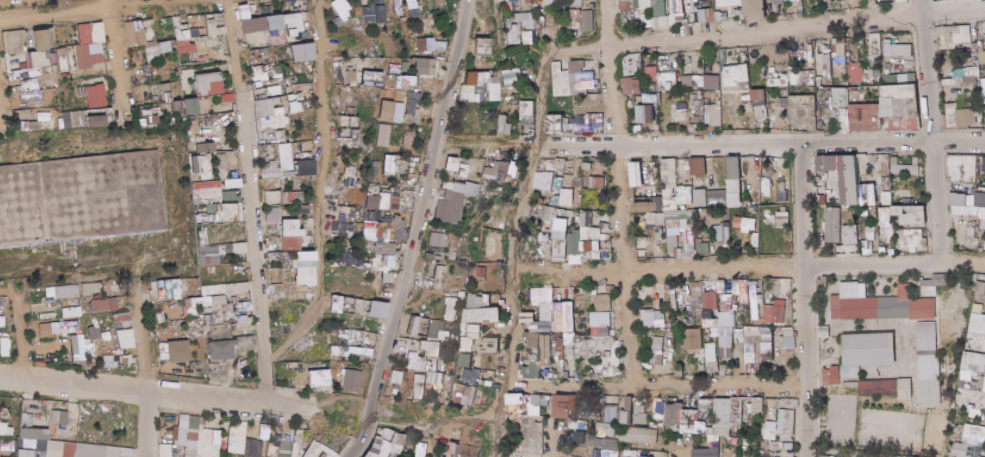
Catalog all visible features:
building: (536, 0)
building: (792, 0)
building: (888, 1)
building: (545, 2)
building: (551, 2)
building: (707, 2)
building: (776, 2)
road: (111, 3)
building: (380, 3)
building: (577, 4)
building: (536, 5)
building: (634, 5)
building: (526, 6)
building: (590, 6)
building: (398, 7)
building: (675, 7)
road: (91, 8)
building: (340, 8)
building: (657, 8)
building: (698, 8)
building: (753, 8)
building: (480, 9)
building: (799, 9)
building: (264, 10)
building: (292, 11)
building: (252, 12)
building: (638, 12)
building: (414, 13)
building: (275, 14)
building: (372, 15)
building: (706, 15)
building: (523, 16)
building: (277, 18)
building: (266, 19)
building: (289, 19)
building: (573, 19)
building: (585, 19)
building: (508, 20)
building: (679, 20)
building: (202, 22)
building: (274, 22)
building: (645, 22)
building: (660, 22)
building: (191, 23)
building: (305, 24)
building: (254, 25)
building: (427, 25)
building: (485, 25)
building: (528, 25)
building: (515, 27)
building: (537, 27)
building: (83, 28)
building: (181, 28)
building: (214, 28)
road: (760, 32)
building: (198, 33)
building: (95, 34)
building: (138, 34)
building: (129, 35)
building: (274, 35)
building: (953, 35)
building: (81, 36)
building: (218, 37)
building: (412, 37)
building: (513, 37)
building: (527, 37)
building: (48, 38)
building: (885, 39)
building: (38, 40)
building: (494, 41)
building: (13, 43)
building: (150, 43)
building: (181, 43)
building: (207, 43)
building: (882, 44)
building: (978, 44)
building: (421, 45)
building: (819, 45)
building: (983, 46)
building: (481, 47)
building: (95, 48)
road: (117, 48)
building: (294, 48)
building: (185, 49)
building: (82, 50)
building: (151, 50)
building: (833, 50)
building: (840, 50)
building: (64, 51)
building: (872, 51)
building: (891, 51)
building: (905, 52)
building: (820, 53)
building: (24, 56)
building: (495, 56)
building: (860, 56)
building: (981, 58)
building: (826, 59)
building: (821, 60)
building: (877, 60)
building: (707, 61)
building: (792, 62)
building: (479, 63)
building: (588, 63)
building: (904, 63)
building: (43, 64)
building: (62, 64)
building: (373, 64)
building: (490, 64)
building: (576, 64)
building: (334, 65)
building: (405, 65)
building: (718, 65)
building: (422, 66)
building: (632, 66)
building: (791, 66)
building: (888, 66)
building: (189, 68)
building: (435, 68)
building: (708, 68)
building: (37, 69)
building: (49, 69)
building: (149, 69)
building: (393, 69)
building: (256, 70)
building: (573, 70)
building: (274, 71)
building: (382, 72)
building: (651, 72)
building: (844, 72)
building: (9, 73)
building: (17, 73)
building: (688, 73)
building: (337, 74)
building: (828, 74)
building: (70, 75)
building: (423, 75)
building: (495, 75)
building: (735, 75)
building: (856, 75)
building: (349, 76)
building: (873, 76)
building: (260, 77)
building: (391, 77)
building: (484, 78)
building: (805, 78)
building: (963, 78)
building: (420, 79)
building: (469, 79)
building: (637, 79)
building: (510, 80)
building: (584, 80)
building: (895, 80)
building: (50, 81)
building: (779, 81)
building: (810, 81)
building: (40, 82)
building: (404, 82)
building: (694, 82)
building: (712, 83)
building: (192, 84)
building: (206, 84)
building: (255, 84)
building: (27, 85)
building: (844, 85)
building: (863, 85)
building: (630, 86)
building: (292, 87)
building: (634, 87)
building: (654, 87)
building: (738, 87)
building: (16, 88)
building: (639, 88)
building: (13, 90)
building: (79, 90)
building: (784, 90)
building: (224, 91)
building: (52, 92)
building: (154, 92)
building: (428, 92)
building: (136, 93)
building: (492, 93)
building: (284, 94)
building: (402, 94)
building: (467, 94)
building: (763, 94)
building: (93, 95)
building: (163, 95)
building: (481, 95)
building: (635, 95)
road: (1, 96)
building: (23, 96)
building: (412, 96)
building: (509, 97)
building: (223, 98)
building: (426, 98)
building: (758, 98)
building: (35, 99)
building: (503, 99)
building: (639, 99)
building: (659, 99)
building: (747, 99)
building: (902, 99)
building: (475, 100)
building: (839, 100)
building: (291, 101)
building: (650, 101)
building: (716, 101)
building: (268, 102)
building: (285, 103)
building: (222, 104)
building: (777, 104)
building: (44, 105)
building: (173, 105)
building: (300, 105)
building: (696, 105)
building: (771, 105)
building: (630, 106)
building: (767, 106)
building: (189, 107)
building: (410, 107)
road: (532, 107)
building: (887, 107)
building: (748, 108)
building: (291, 109)
building: (512, 109)
building: (760, 109)
building: (254, 110)
building: (264, 110)
building: (385, 111)
building: (645, 111)
building: (804, 111)
building: (144, 112)
building: (397, 112)
building: (415, 112)
building: (96, 113)
building: (29, 114)
building: (713, 115)
building: (48, 116)
building: (156, 116)
building: (40, 117)
building: (865, 117)
building: (966, 117)
building: (524, 118)
building: (75, 119)
building: (63, 120)
building: (147, 120)
building: (410, 120)
building: (93, 121)
building: (168, 121)
building: (205, 121)
building: (283, 121)
building: (698, 121)
building: (139, 122)
building: (267, 122)
building: (759, 122)
building: (57, 123)
building: (553, 123)
building: (586, 123)
building: (899, 123)
building: (86, 124)
building: (21, 126)
building: (30, 126)
building: (503, 126)
building: (138, 127)
building: (348, 127)
building: (752, 127)
road: (932, 127)
building: (695, 128)
building: (15, 129)
building: (637, 129)
building: (709, 129)
building: (414, 130)
building: (409, 133)
building: (383, 135)
building: (266, 138)
building: (407, 140)
building: (346, 143)
road: (755, 143)
building: (202, 146)
building: (232, 148)
building: (262, 149)
road: (478, 151)
building: (270, 154)
building: (398, 157)
building: (415, 159)
building: (768, 159)
building: (282, 160)
building: (717, 160)
building: (785, 160)
building: (894, 161)
building: (915, 161)
building: (398, 162)
building: (823, 162)
building: (558, 163)
building: (596, 163)
building: (833, 163)
building: (193, 164)
building: (388, 164)
building: (451, 164)
building: (292, 165)
building: (567, 165)
building: (687, 165)
building: (981, 165)
building: (220, 166)
building: (585, 166)
building: (886, 166)
building: (303, 167)
building: (374, 167)
building: (503, 167)
building: (698, 167)
building: (978, 167)
building: (204, 168)
building: (734, 168)
building: (350, 169)
building: (398, 169)
building: (404, 169)
building: (904, 169)
building: (269, 170)
building: (511, 170)
building: (962, 170)
building: (461, 172)
building: (496, 173)
building: (766, 173)
building: (232, 175)
building: (637, 175)
building: (576, 176)
building: (667, 179)
building: (883, 179)
building: (895, 179)
building: (900, 179)
building: (540, 180)
building: (850, 181)
building: (411, 182)
building: (595, 182)
building: (350, 183)
building: (476, 183)
building: (500, 183)
building: (766, 183)
building: (448, 184)
building: (444, 185)
building: (734, 186)
building: (457, 187)
building: (782, 187)
building: (489, 189)
road: (320, 190)
building: (371, 190)
building: (469, 190)
building: (554, 190)
building: (980, 190)
building: (199, 191)
building: (393, 191)
road: (615, 191)
building: (765, 191)
building: (646, 192)
building: (973, 192)
building: (402, 194)
building: (590, 195)
building: (660, 195)
building: (682, 195)
building: (868, 195)
building: (782, 196)
building: (297, 197)
building: (356, 197)
building: (565, 197)
building: (271, 198)
building: (286, 198)
building: (711, 198)
building: (923, 198)
building: (237, 199)
building: (955, 199)
road: (249, 200)
building: (539, 200)
building: (639, 200)
building: (735, 200)
building: (980, 200)
building: (382, 201)
building: (553, 201)
building: (659, 201)
building: (967, 201)
building: (372, 202)
building: (392, 202)
road: (418, 202)
building: (768, 202)
building: (907, 202)
building: (912, 203)
building: (747, 204)
building: (448, 207)
building: (468, 207)
building: (574, 207)
building: (648, 208)
building: (682, 208)
building: (307, 209)
building: (352, 209)
building: (756, 209)
building: (701, 210)
building: (726, 210)
building: (752, 210)
building: (960, 210)
building: (972, 210)
building: (907, 211)
building: (401, 212)
building: (865, 212)
building: (231, 213)
building: (344, 213)
building: (564, 213)
building: (887, 213)
building: (272, 214)
building: (678, 214)
building: (704, 214)
building: (856, 214)
building: (546, 215)
building: (911, 215)
building: (214, 217)
building: (375, 217)
building: (387, 218)
building: (585, 218)
building: (352, 219)
building: (363, 219)
building: (660, 219)
building: (784, 219)
building: (866, 219)
building: (595, 220)
building: (467, 221)
building: (578, 221)
building: (584, 221)
building: (642, 221)
building: (651, 221)
building: (457, 222)
building: (563, 222)
building: (743, 222)
building: (880, 223)
building: (673, 224)
building: (226, 225)
building: (834, 225)
building: (974, 225)
building: (335, 226)
building: (342, 226)
building: (353, 226)
building: (359, 226)
building: (605, 226)
building: (291, 228)
building: (662, 228)
building: (208, 229)
building: (394, 229)
building: (826, 229)
building: (977, 229)
building: (877, 230)
building: (226, 231)
building: (375, 231)
building: (602, 231)
building: (745, 231)
building: (573, 232)
building: (821, 232)
building: (887, 232)
building: (962, 232)
building: (344, 233)
building: (454, 233)
building: (540, 233)
building: (871, 233)
building: (956, 233)
building: (722, 234)
building: (878, 234)
building: (970, 234)
building: (568, 235)
building: (687, 235)
building: (852, 236)
building: (202, 237)
building: (660, 237)
building: (462, 238)
building: (877, 238)
building: (913, 238)
building: (339, 239)
building: (349, 240)
building: (541, 240)
building: (36, 241)
building: (304, 241)
building: (437, 241)
building: (899, 241)
building: (369, 242)
building: (548, 242)
building: (290, 243)
building: (303, 244)
building: (575, 244)
building: (30, 245)
building: (451, 245)
building: (585, 245)
building: (967, 245)
building: (558, 246)
building: (738, 246)
building: (984, 246)
building: (868, 247)
building: (229, 248)
building: (378, 249)
building: (598, 249)
building: (702, 249)
building: (388, 250)
building: (883, 250)
building: (469, 251)
building: (551, 251)
building: (726, 251)
building: (541, 252)
building: (584, 252)
building: (856, 252)
building: (893, 252)
building: (231, 253)
building: (677, 253)
building: (687, 254)
building: (208, 255)
building: (443, 255)
building: (589, 255)
building: (304, 256)
building: (350, 258)
building: (575, 258)
building: (601, 258)
building: (583, 259)
building: (206, 260)
building: (219, 260)
building: (463, 260)
building: (497, 260)
building: (311, 263)
building: (335, 263)
building: (388, 263)
building: (76, 264)
building: (300, 264)
road: (747, 264)
building: (367, 265)
building: (498, 265)
road: (510, 268)
building: (480, 272)
building: (305, 276)
building: (439, 276)
building: (981, 277)
building: (182, 281)
building: (1, 282)
building: (734, 282)
building: (182, 286)
building: (89, 287)
building: (227, 287)
building: (666, 287)
building: (720, 287)
building: (115, 288)
building: (595, 288)
building: (609, 288)
building: (676, 288)
building: (980, 288)
building: (212, 289)
building: (168, 290)
building: (696, 290)
building: (760, 290)
building: (65, 291)
building: (154, 291)
building: (743, 292)
building: (906, 292)
building: (571, 293)
building: (198, 294)
building: (460, 294)
building: (294, 295)
building: (98, 296)
building: (539, 297)
building: (673, 299)
building: (725, 299)
road: (810, 299)
building: (218, 300)
building: (206, 301)
building: (233, 301)
building: (343, 301)
building: (484, 301)
building: (111, 302)
building: (473, 302)
building: (500, 302)
building: (601, 302)
building: (688, 302)
building: (709, 302)
building: (2, 303)
building: (856, 303)
building: (247, 304)
building: (335, 304)
building: (89, 305)
building: (99, 305)
building: (198, 305)
building: (77, 306)
building: (191, 306)
building: (358, 306)
building: (646, 306)
building: (667, 306)
building: (450, 307)
building: (735, 308)
building: (756, 308)
building: (222, 309)
building: (341, 309)
building: (348, 309)
building: (375, 309)
building: (657, 309)
building: (924, 309)
building: (228, 311)
building: (523, 311)
building: (725, 311)
building: (493, 312)
building: (699, 313)
building: (212, 314)
building: (779, 314)
building: (474, 315)
building: (576, 315)
building: (120, 316)
building: (200, 316)
building: (223, 316)
building: (565, 316)
building: (538, 317)
building: (526, 318)
building: (249, 319)
building: (606, 319)
building: (653, 319)
building: (379, 320)
building: (547, 320)
building: (1, 321)
building: (697, 321)
building: (711, 323)
building: (727, 323)
building: (94, 324)
building: (974, 325)
building: (243, 326)
building: (419, 326)
building: (540, 326)
building: (553, 326)
building: (786, 326)
building: (58, 327)
building: (525, 327)
building: (121, 328)
building: (233, 328)
building: (984, 328)
building: (435, 329)
building: (749, 329)
building: (770, 330)
building: (196, 331)
building: (220, 331)
building: (596, 331)
building: (725, 331)
building: (758, 331)
building: (93, 332)
building: (578, 332)
building: (605, 332)
building: (788, 332)
building: (825, 332)
building: (715, 333)
building: (343, 334)
road: (22, 335)
building: (208, 335)
building: (375, 335)
building: (105, 336)
building: (367, 336)
building: (467, 336)
building: (928, 336)
building: (128, 337)
building: (577, 337)
building: (584, 337)
building: (738, 337)
building: (354, 338)
building: (448, 338)
building: (454, 339)
building: (530, 339)
building: (568, 339)
building: (599, 340)
building: (34, 341)
building: (436, 341)
building: (242, 343)
building: (417, 343)
road: (144, 344)
building: (365, 344)
building: (109, 345)
building: (402, 345)
building: (489, 345)
building: (756, 345)
building: (768, 346)
building: (984, 347)
building: (87, 348)
building: (433, 348)
building: (538, 348)
building: (76, 349)
building: (94, 349)
building: (221, 349)
building: (585, 349)
building: (695, 349)
building: (334, 350)
building: (163, 351)
building: (178, 351)
building: (344, 351)
building: (360, 351)
building: (657, 351)
building: (542, 352)
building: (870, 352)
building: (984, 352)
building: (530, 353)
building: (750, 353)
building: (476, 354)
building: (442, 356)
building: (725, 358)
building: (413, 360)
building: (434, 360)
building: (462, 360)
building: (711, 360)
building: (968, 360)
building: (365, 362)
building: (607, 362)
building: (124, 363)
building: (570, 363)
building: (292, 366)
building: (352, 366)
building: (430, 366)
building: (441, 366)
building: (447, 366)
building: (589, 369)
building: (217, 370)
building: (529, 370)
building: (600, 370)
building: (518, 371)
building: (553, 372)
building: (406, 373)
building: (542, 373)
building: (679, 373)
building: (745, 373)
building: (760, 373)
building: (333, 375)
building: (346, 375)
building: (469, 375)
building: (573, 375)
building: (983, 375)
building: (976, 376)
building: (832, 377)
building: (318, 378)
building: (435, 378)
building: (485, 378)
building: (447, 381)
building: (931, 381)
building: (354, 382)
road: (661, 383)
building: (971, 384)
building: (400, 385)
building: (418, 387)
building: (314, 388)
building: (437, 388)
building: (889, 389)
road: (156, 390)
building: (355, 392)
building: (460, 394)
building: (524, 397)
building: (477, 398)
building: (535, 398)
building: (513, 399)
building: (670, 403)
building: (629, 404)
building: (620, 405)
building: (707, 405)
building: (469, 406)
building: (584, 406)
building: (758, 406)
building: (47, 407)
building: (464, 407)
building: (562, 407)
building: (574, 407)
building: (481, 409)
building: (510, 409)
building: (527, 410)
building: (611, 410)
building: (658, 410)
building: (597, 414)
building: (674, 414)
building: (736, 414)
building: (574, 415)
building: (639, 415)
building: (36, 416)
road: (451, 416)
building: (58, 417)
building: (25, 420)
building: (201, 421)
building: (193, 422)
building: (786, 422)
road: (149, 423)
building: (239, 425)
building: (272, 427)
building: (719, 427)
building: (5, 430)
building: (264, 431)
building: (292, 432)
road: (361, 432)
building: (32, 433)
building: (208, 436)
building: (531, 436)
building: (639, 436)
building: (181, 437)
building: (191, 437)
building: (582, 438)
building: (236, 441)
building: (971, 441)
building: (7, 445)
building: (40, 445)
building: (608, 445)
building: (59, 446)
building: (285, 446)
building: (25, 447)
building: (249, 447)
building: (68, 449)
building: (258, 449)
building: (452, 449)
building: (90, 450)
building: (164, 450)
building: (206, 450)
building: (420, 450)
building: (461, 450)
building: (112, 451)
building: (190, 451)
building: (320, 451)
building: (126, 452)
building: (598, 453)
building: (50, 455)
building: (78, 456)
building: (892, 456)

